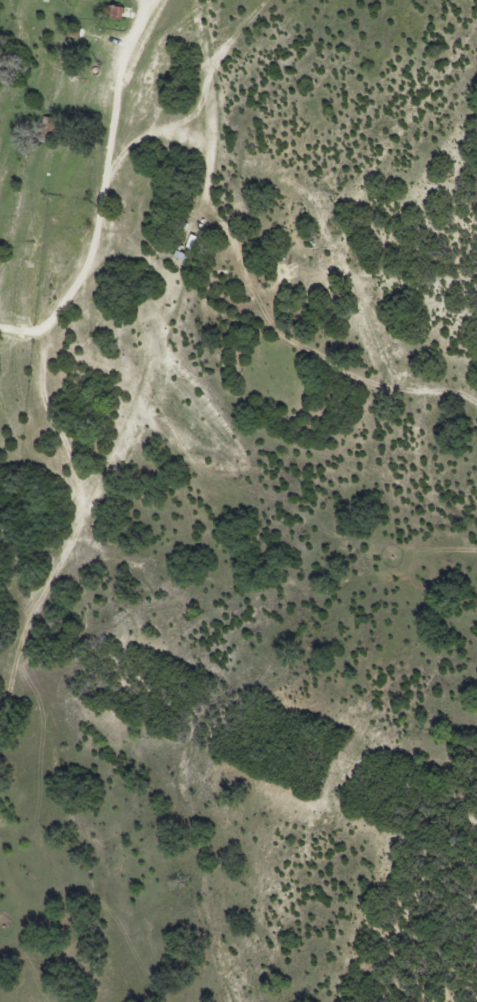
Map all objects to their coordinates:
road: (102, 195)

